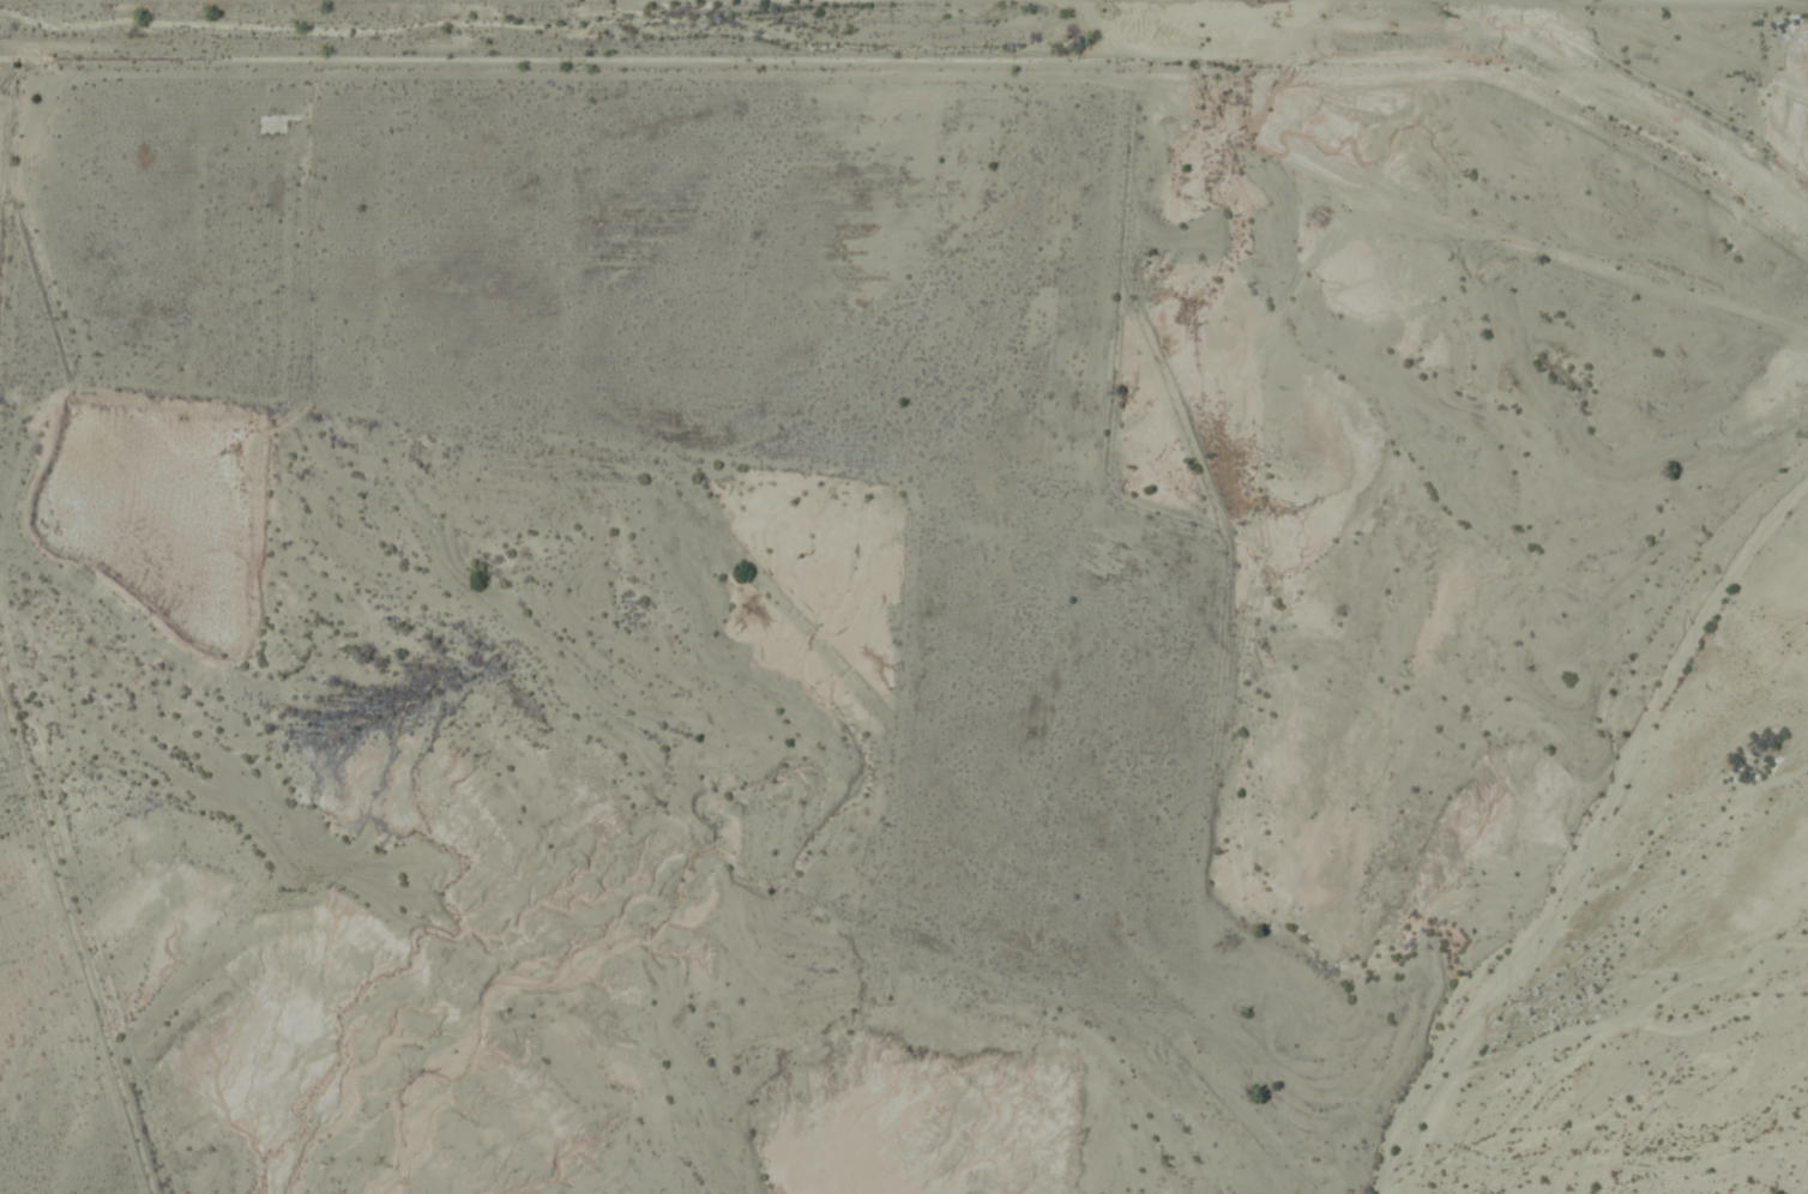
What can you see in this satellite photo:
road: (1685, 83)

